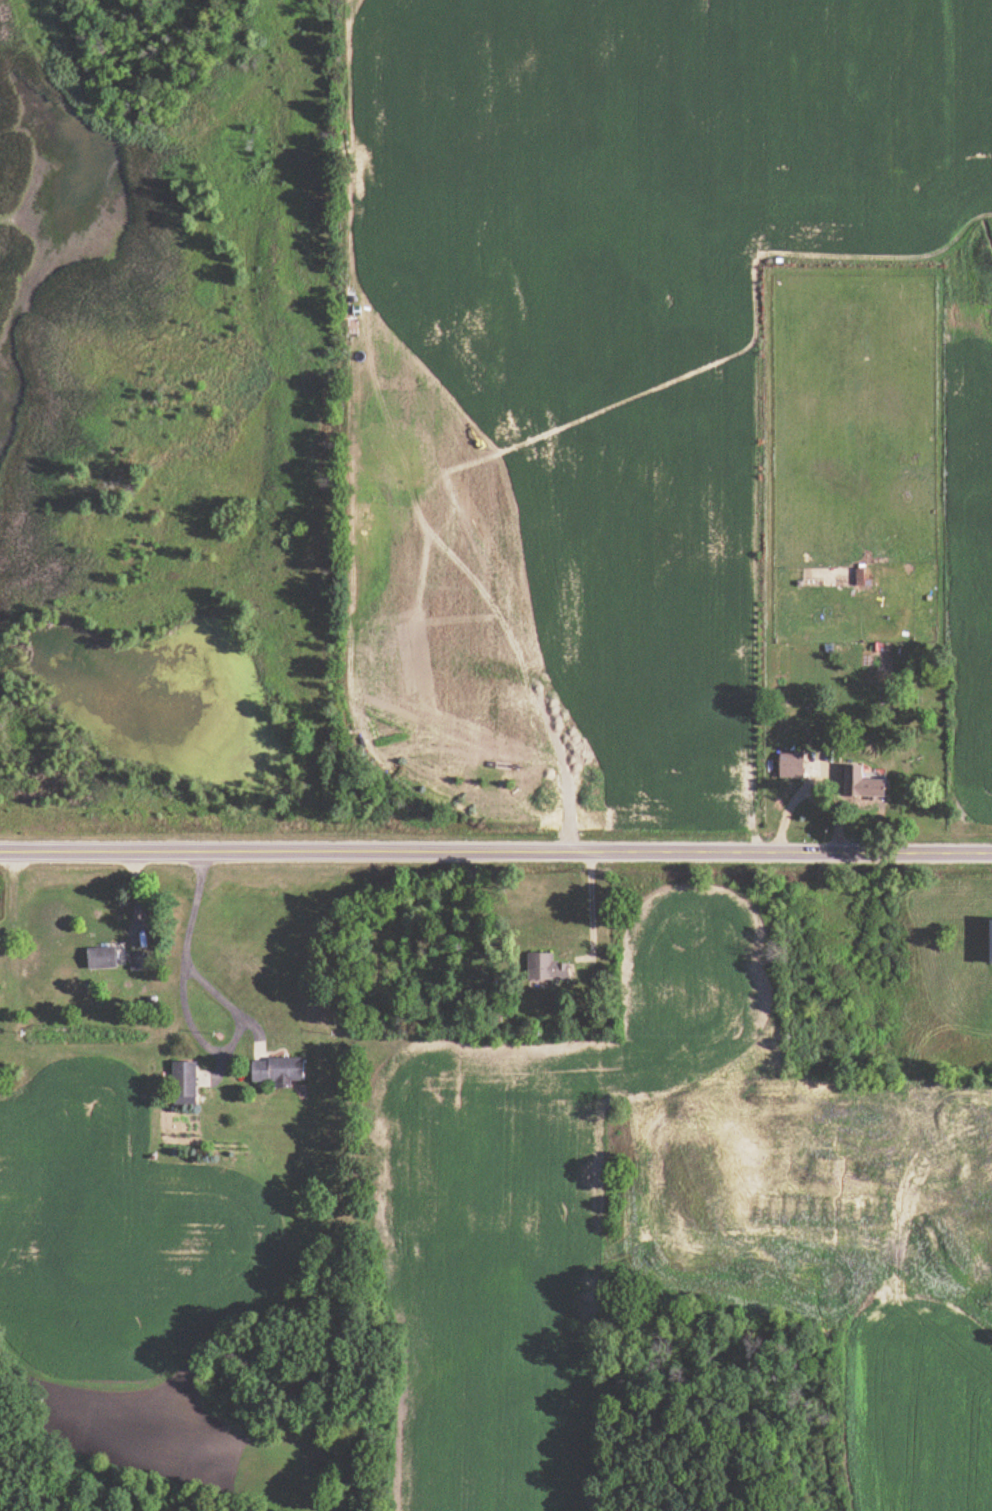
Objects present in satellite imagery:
building: (863, 575)
building: (795, 764)
building: (868, 783)
road: (811, 784)
road: (496, 852)
road: (593, 908)
building: (105, 957)
building: (142, 961)
building: (549, 966)
road: (193, 1019)
building: (279, 1069)
building: (186, 1082)

